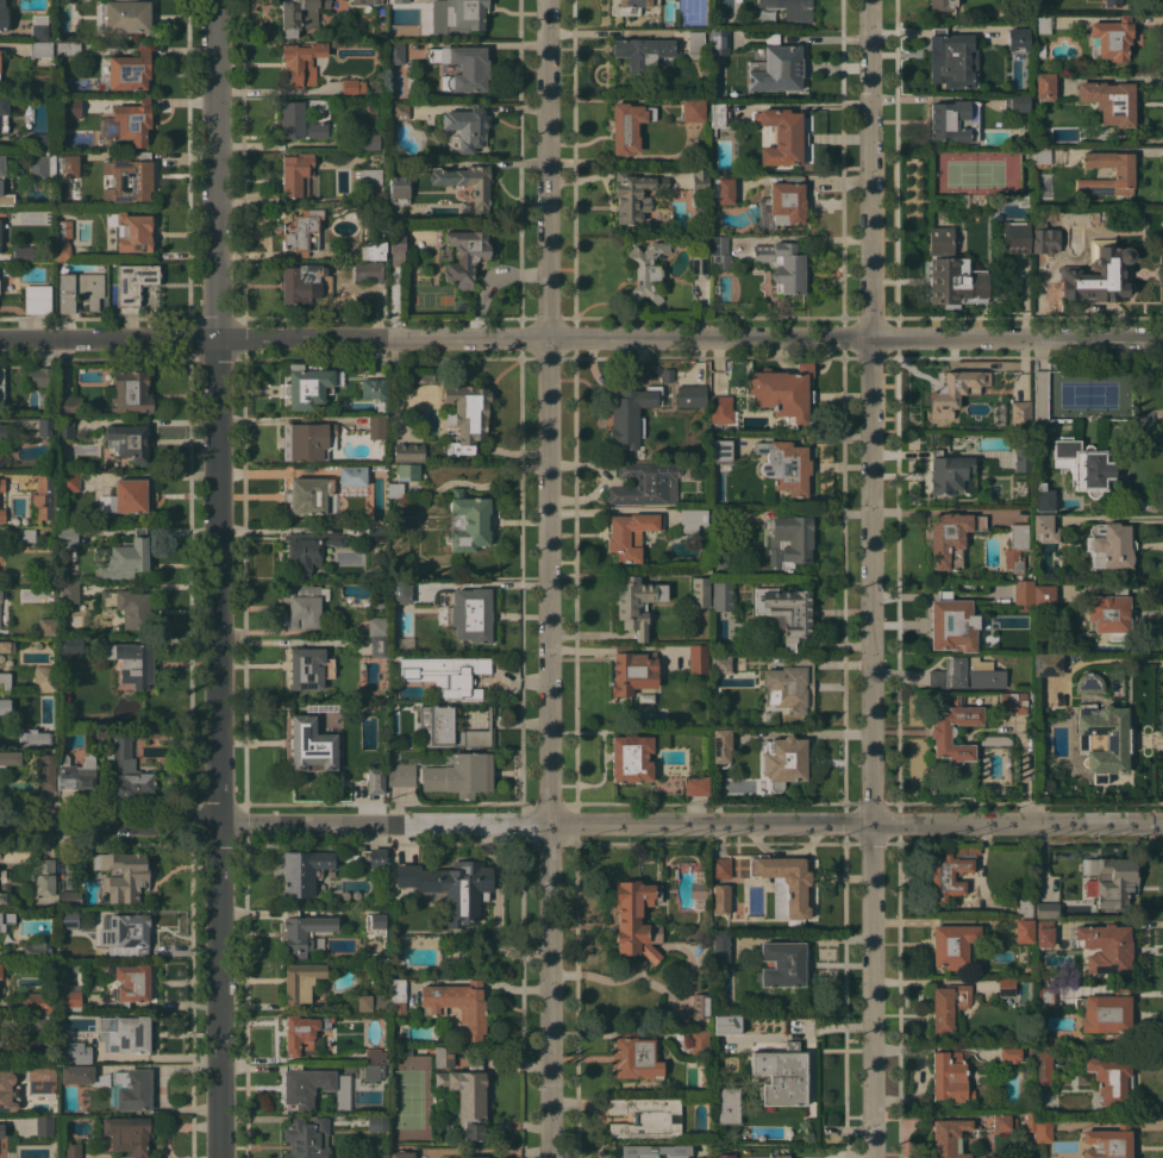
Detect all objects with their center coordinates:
building: (367, 1)
building: (400, 1)
building: (1112, 2)
building: (784, 4)
building: (939, 4)
building: (633, 5)
building: (300, 14)
building: (2, 17)
building: (125, 17)
building: (457, 17)
building: (1043, 24)
building: (38, 26)
road: (608, 32)
building: (1021, 32)
building: (1109, 38)
building: (719, 40)
building: (695, 44)
building: (68, 48)
building: (40, 49)
building: (1039, 50)
building: (395, 52)
building: (640, 52)
building: (950, 60)
building: (301, 62)
building: (777, 67)
building: (463, 68)
building: (129, 70)
building: (352, 86)
building: (1045, 86)
building: (1109, 101)
building: (1017, 102)
building: (69, 107)
building: (693, 108)
building: (398, 111)
building: (4, 113)
building: (719, 117)
building: (301, 118)
building: (955, 120)
building: (130, 121)
building: (468, 126)
building: (627, 126)
building: (782, 136)
building: (368, 140)
building: (39, 142)
building: (1040, 155)
building: (67, 165)
building: (42, 167)
building: (1123, 173)
building: (295, 174)
building: (371, 176)
building: (129, 177)
building: (699, 179)
building: (1, 183)
building: (468, 183)
building: (399, 189)
building: (723, 189)
building: (633, 194)
building: (782, 204)
building: (701, 208)
building: (0, 231)
building: (133, 232)
building: (304, 232)
building: (1015, 237)
building: (1044, 238)
building: (62, 244)
building: (396, 245)
building: (374, 250)
building: (719, 251)
building: (25, 252)
building: (289, 253)
building: (465, 256)
building: (699, 265)
building: (783, 265)
building: (646, 269)
building: (368, 270)
building: (951, 273)
building: (1099, 273)
building: (133, 283)
building: (301, 283)
building: (1017, 286)
building: (80, 289)
building: (37, 299)
road: (581, 338)
building: (667, 375)
building: (44, 376)
building: (1, 386)
building: (307, 386)
building: (371, 388)
building: (955, 390)
building: (131, 392)
building: (783, 392)
building: (690, 395)
building: (1040, 395)
building: (49, 405)
building: (68, 405)
building: (721, 409)
building: (465, 413)
building: (1020, 414)
building: (630, 417)
building: (45, 426)
building: (33, 427)
building: (65, 427)
building: (376, 427)
building: (2, 431)
building: (129, 440)
building: (307, 440)
building: (721, 450)
building: (408, 452)
building: (0, 456)
building: (1023, 457)
building: (1083, 464)
building: (783, 468)
building: (408, 471)
building: (950, 474)
building: (354, 475)
building: (69, 482)
building: (1, 483)
building: (645, 483)
building: (394, 489)
building: (45, 495)
building: (308, 495)
building: (126, 496)
building: (1044, 497)
building: (2, 515)
building: (700, 518)
building: (396, 521)
building: (468, 521)
building: (1044, 528)
building: (377, 533)
building: (25, 534)
building: (630, 534)
building: (67, 536)
building: (951, 537)
building: (789, 542)
building: (1111, 545)
building: (308, 549)
building: (1015, 549)
building: (125, 556)
building: (723, 558)
road: (215, 578)
road: (548, 578)
road: (870, 578)
building: (400, 591)
building: (700, 591)
building: (69, 594)
building: (0, 595)
building: (1044, 595)
building: (723, 596)
building: (1013, 599)
building: (379, 601)
building: (636, 602)
building: (302, 605)
building: (129, 607)
building: (786, 612)
building: (1111, 612)
building: (470, 614)
building: (951, 624)
building: (46, 626)
building: (376, 626)
building: (70, 645)
building: (379, 645)
building: (6, 646)
building: (698, 657)
building: (132, 662)
building: (720, 663)
building: (1048, 664)
building: (309, 668)
building: (633, 670)
building: (446, 674)
building: (965, 674)
building: (44, 678)
building: (5, 682)
building: (790, 686)
building: (1012, 702)
building: (5, 706)
building: (449, 727)
building: (953, 730)
building: (36, 737)
building: (1103, 739)
building: (312, 745)
building: (721, 746)
building: (10, 757)
building: (631, 758)
building: (784, 759)
building: (123, 762)
building: (46, 771)
building: (76, 772)
building: (401, 774)
building: (459, 774)
building: (375, 780)
building: (1, 785)
building: (696, 785)
road: (434, 821)
road: (1017, 821)
building: (375, 859)
building: (720, 868)
building: (304, 871)
building: (951, 872)
building: (124, 874)
building: (45, 876)
building: (1111, 880)
building: (784, 883)
building: (451, 887)
building: (700, 889)
building: (69, 897)
building: (4, 899)
building: (721, 899)
building: (1024, 908)
building: (1046, 909)
building: (69, 919)
building: (636, 919)
building: (6, 920)
building: (375, 921)
building: (1024, 931)
building: (305, 933)
building: (1044, 935)
building: (124, 937)
building: (952, 944)
building: (720, 945)
building: (1105, 947)
building: (37, 950)
building: (780, 964)
building: (0, 970)
building: (130, 982)
building: (300, 982)
building: (1006, 984)
building: (396, 995)
building: (1045, 999)
building: (70, 1000)
building: (38, 1002)
building: (369, 1002)
building: (700, 1004)
building: (949, 1007)
building: (471, 1010)
building: (1106, 1010)
building: (51, 1016)
building: (35, 1020)
building: (727, 1024)
building: (126, 1032)
building: (302, 1032)
building: (1049, 1039)
building: (699, 1043)
building: (0, 1045)
building: (401, 1050)
building: (74, 1053)
building: (1011, 1053)
building: (376, 1054)
road: (140, 1057)
building: (444, 1057)
building: (636, 1057)
building: (376, 1070)
building: (1043, 1070)
building: (82, 1075)
building: (782, 1075)
building: (950, 1076)
building: (43, 1078)
building: (1111, 1078)
building: (305, 1087)
building: (131, 1089)
building: (8, 1090)
building: (465, 1098)
building: (729, 1104)
building: (645, 1116)
building: (379, 1122)
building: (1003, 1122)
building: (44, 1125)
building: (1030, 1126)
building: (1043, 1129)
building: (1, 1131)
building: (129, 1133)
building: (307, 1138)
building: (950, 1138)
building: (1107, 1141)
building: (73, 1150)
building: (655, 1151)
building: (724, 1153)
building: (401, 1154)
building: (473, 1157)

